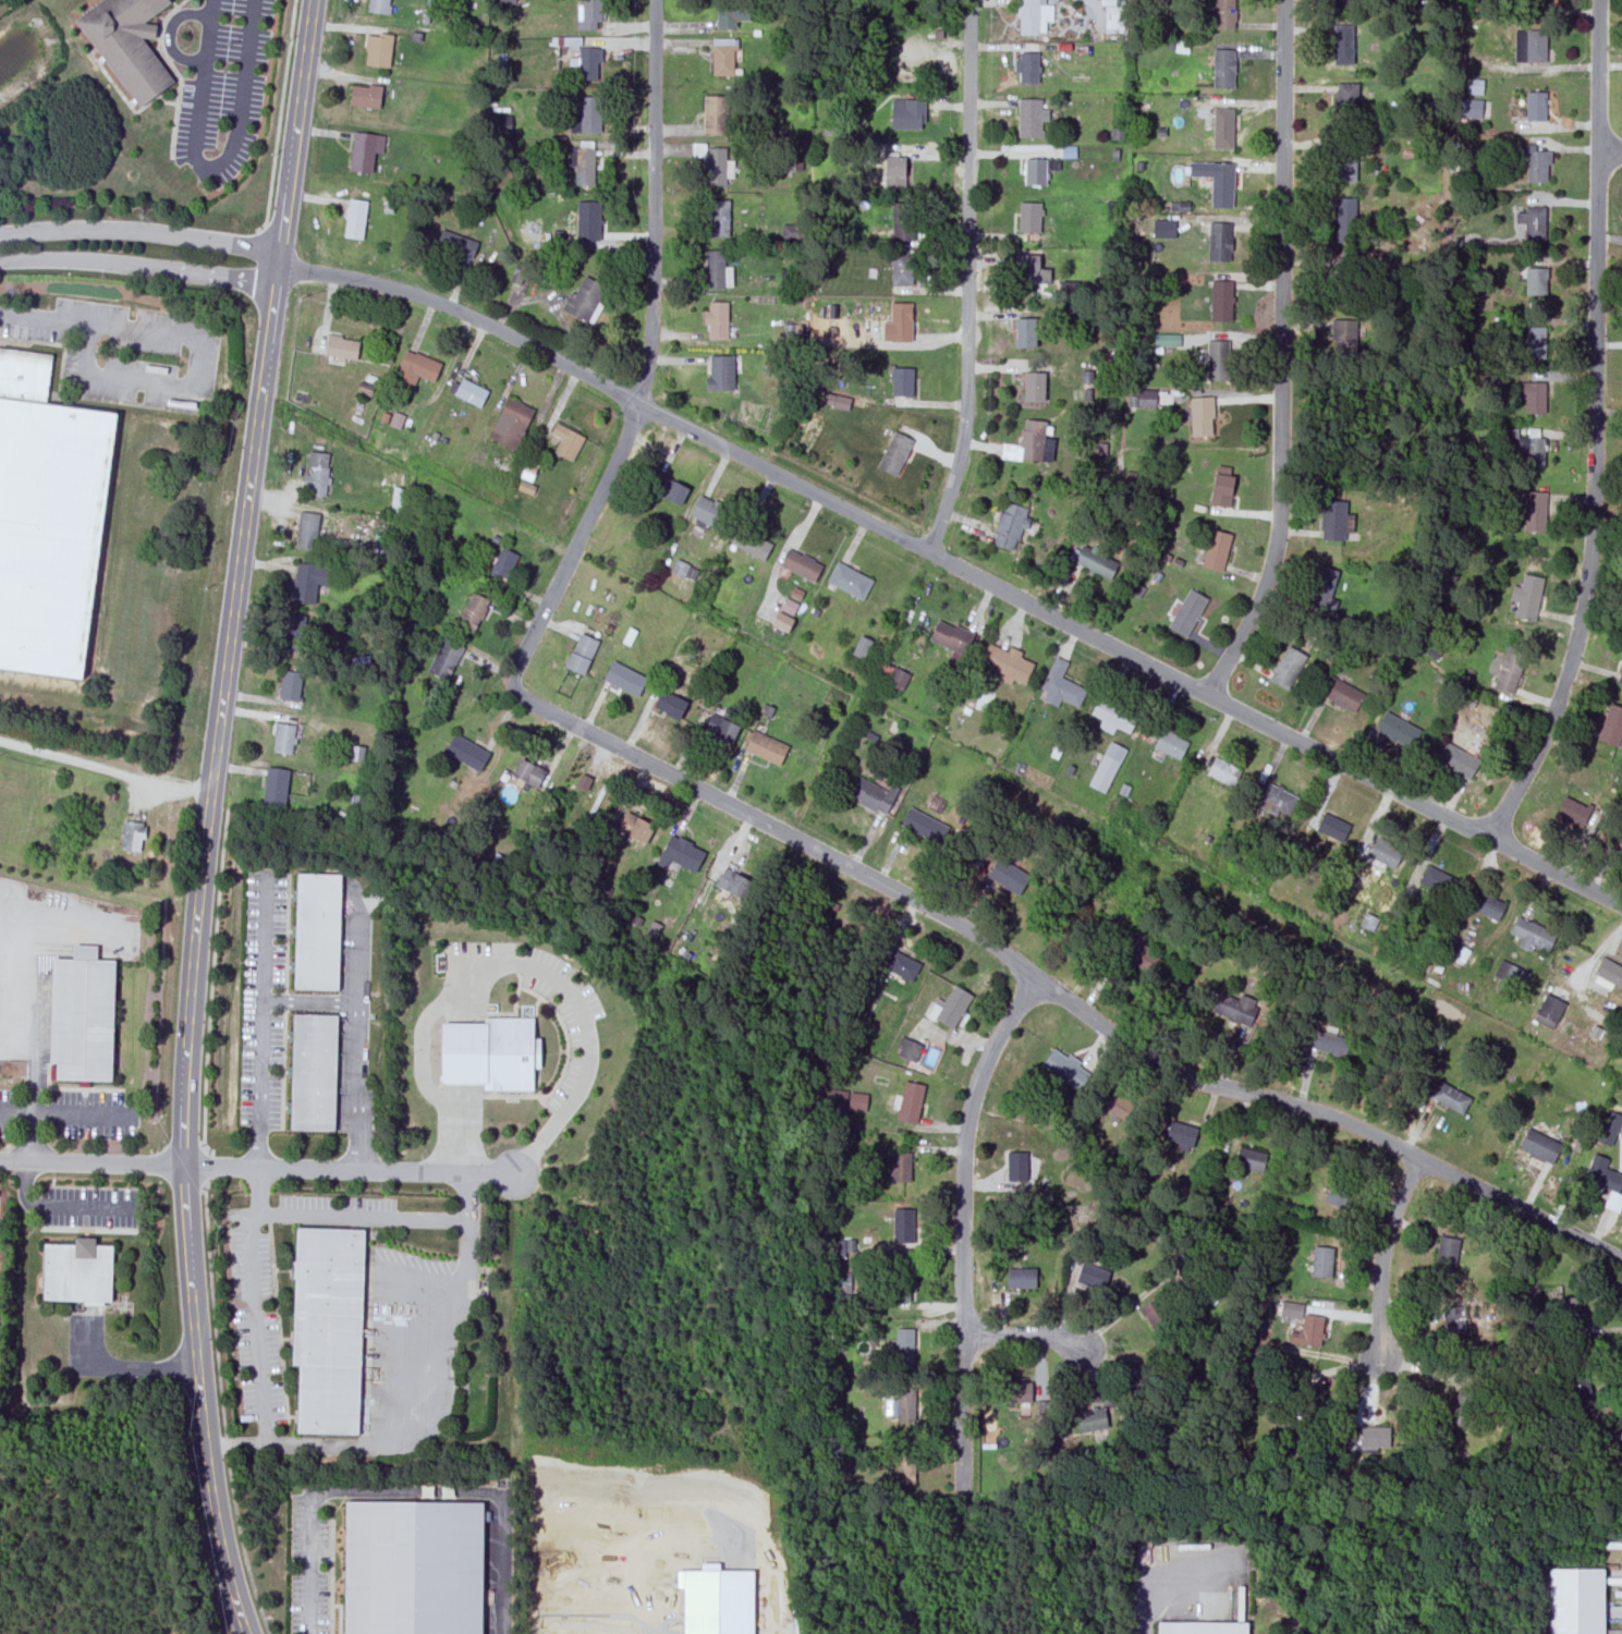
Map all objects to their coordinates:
building: (509, 1)
building: (1342, 1)
building: (1538, 4)
building: (379, 5)
building: (588, 14)
building: (729, 14)
building: (1030, 15)
building: (1222, 15)
building: (1113, 16)
road: (169, 35)
building: (572, 41)
building: (129, 44)
building: (1341, 45)
building: (1528, 46)
building: (379, 50)
building: (724, 54)
building: (587, 63)
building: (1026, 69)
building: (1222, 69)
road: (1597, 76)
building: (1475, 86)
building: (366, 95)
building: (1343, 100)
building: (1534, 107)
building: (1467, 109)
building: (588, 114)
building: (714, 114)
building: (906, 114)
road: (279, 118)
building: (1029, 118)
building: (1221, 129)
building: (365, 150)
road: (1610, 153)
building: (1342, 161)
building: (794, 162)
building: (1533, 162)
building: (580, 166)
building: (716, 167)
road: (208, 169)
building: (1034, 171)
building: (893, 173)
building: (1215, 181)
building: (355, 218)
building: (1028, 218)
building: (718, 219)
building: (1344, 220)
building: (587, 221)
building: (902, 221)
building: (1530, 222)
building: (1164, 228)
road: (138, 235)
road: (277, 244)
building: (1218, 244)
building: (458, 245)
road: (136, 265)
building: (715, 269)
building: (901, 269)
building: (1027, 269)
building: (519, 273)
building: (1343, 277)
road: (967, 278)
building: (1534, 281)
building: (1068, 289)
building: (583, 298)
building: (1220, 301)
road: (47, 317)
building: (715, 320)
building: (900, 322)
building: (1024, 333)
building: (1344, 336)
building: (1166, 340)
building: (1534, 342)
building: (342, 346)
road: (1281, 354)
road: (647, 356)
building: (1216, 361)
building: (416, 368)
power tower: (233, 371)
building: (719, 373)
building: (900, 382)
road: (193, 387)
building: (1033, 388)
building: (468, 391)
building: (1530, 397)
building: (1144, 399)
building: (838, 400)
building: (1202, 416)
building: (397, 419)
building: (511, 423)
building: (568, 441)
building: (1025, 443)
building: (1533, 453)
building: (893, 454)
building: (530, 468)
building: (316, 475)
building: (527, 487)
building: (671, 489)
building: (1220, 491)
road: (1591, 505)
building: (1534, 511)
building: (710, 514)
building: (49, 516)
building: (1330, 522)
building: (1008, 527)
building: (305, 532)
building: (754, 544)
building: (1215, 551)
power tower: (595, 560)
building: (1095, 563)
building: (502, 564)
road: (955, 565)
building: (798, 566)
building: (684, 569)
building: (307, 582)
building: (847, 582)
building: (1320, 586)
building: (1526, 593)
building: (790, 606)
building: (471, 613)
building: (1185, 613)
building: (783, 621)
building: (292, 633)
building: (950, 636)
building: (862, 646)
building: (578, 654)
building: (443, 659)
building: (1003, 662)
building: (1285, 667)
building: (1508, 669)
building: (1620, 674)
building: (623, 678)
building: (898, 678)
building: (289, 685)
building: (1060, 686)
building: (1340, 694)
building: (668, 703)
building: (1111, 716)
building: (1610, 724)
building: (720, 729)
building: (1395, 729)
road: (1219, 733)
building: (282, 737)
building: (1169, 744)
building: (764, 746)
building: (468, 752)
building: (358, 753)
road: (1223, 754)
power tower: (993, 760)
building: (1455, 760)
road: (214, 766)
building: (1108, 767)
road: (106, 769)
building: (1224, 770)
building: (526, 772)
building: (584, 781)
building: (273, 786)
building: (871, 794)
road: (1453, 798)
building: (1277, 801)
building: (1571, 812)
building: (923, 825)
building: (636, 827)
building: (1331, 827)
building: (131, 836)
building: (1613, 838)
building: (679, 853)
building: (1383, 853)
building: (1007, 876)
building: (1437, 880)
building: (731, 882)
building: (1487, 905)
building: (1369, 922)
building: (319, 931)
building: (1532, 934)
building: (1134, 950)
building: (901, 965)
power tower: (1390, 965)
building: (1607, 974)
building: (1510, 975)
road: (212, 978)
road: (1059, 992)
road: (309, 1001)
building: (951, 1007)
building: (1234, 1008)
building: (1548, 1011)
road: (261, 1017)
building: (80, 1019)
road: (355, 1023)
road: (588, 1035)
building: (1326, 1042)
building: (906, 1050)
building: (492, 1053)
road: (420, 1062)
building: (1064, 1068)
building: (316, 1072)
building: (1449, 1097)
building: (843, 1101)
building: (856, 1102)
building: (908, 1102)
building: (1112, 1103)
road: (34, 1111)
road: (68, 1113)
building: (1609, 1127)
building: (1179, 1134)
building: (1538, 1146)
building: (1248, 1159)
road: (92, 1163)
road: (209, 1163)
building: (902, 1167)
building: (1017, 1167)
road: (350, 1170)
building: (1601, 1174)
road: (25, 1188)
building: (1337, 1190)
road: (89, 1207)
road: (363, 1217)
road: (962, 1222)
building: (901, 1225)
building: (847, 1247)
building: (1444, 1252)
road: (1382, 1257)
building: (1320, 1261)
building: (75, 1271)
building: (1088, 1275)
building: (1020, 1278)
building: (842, 1283)
building: (897, 1283)
road: (420, 1284)
road: (254, 1303)
building: (1292, 1309)
building: (1568, 1312)
building: (1155, 1316)
building: (331, 1329)
building: (1312, 1329)
road: (1021, 1333)
road: (195, 1341)
building: (902, 1346)
road: (123, 1368)
building: (1577, 1385)
building: (1015, 1392)
building: (1313, 1400)
road: (418, 1401)
building: (904, 1404)
building: (1459, 1405)
road: (222, 1409)
building: (1090, 1419)
building: (1373, 1436)
building: (1620, 1436)
building: (904, 1464)
road: (708, 1471)
road: (406, 1490)
building: (413, 1568)
road: (1170, 1573)
building: (1576, 1601)
building: (1200, 1627)

